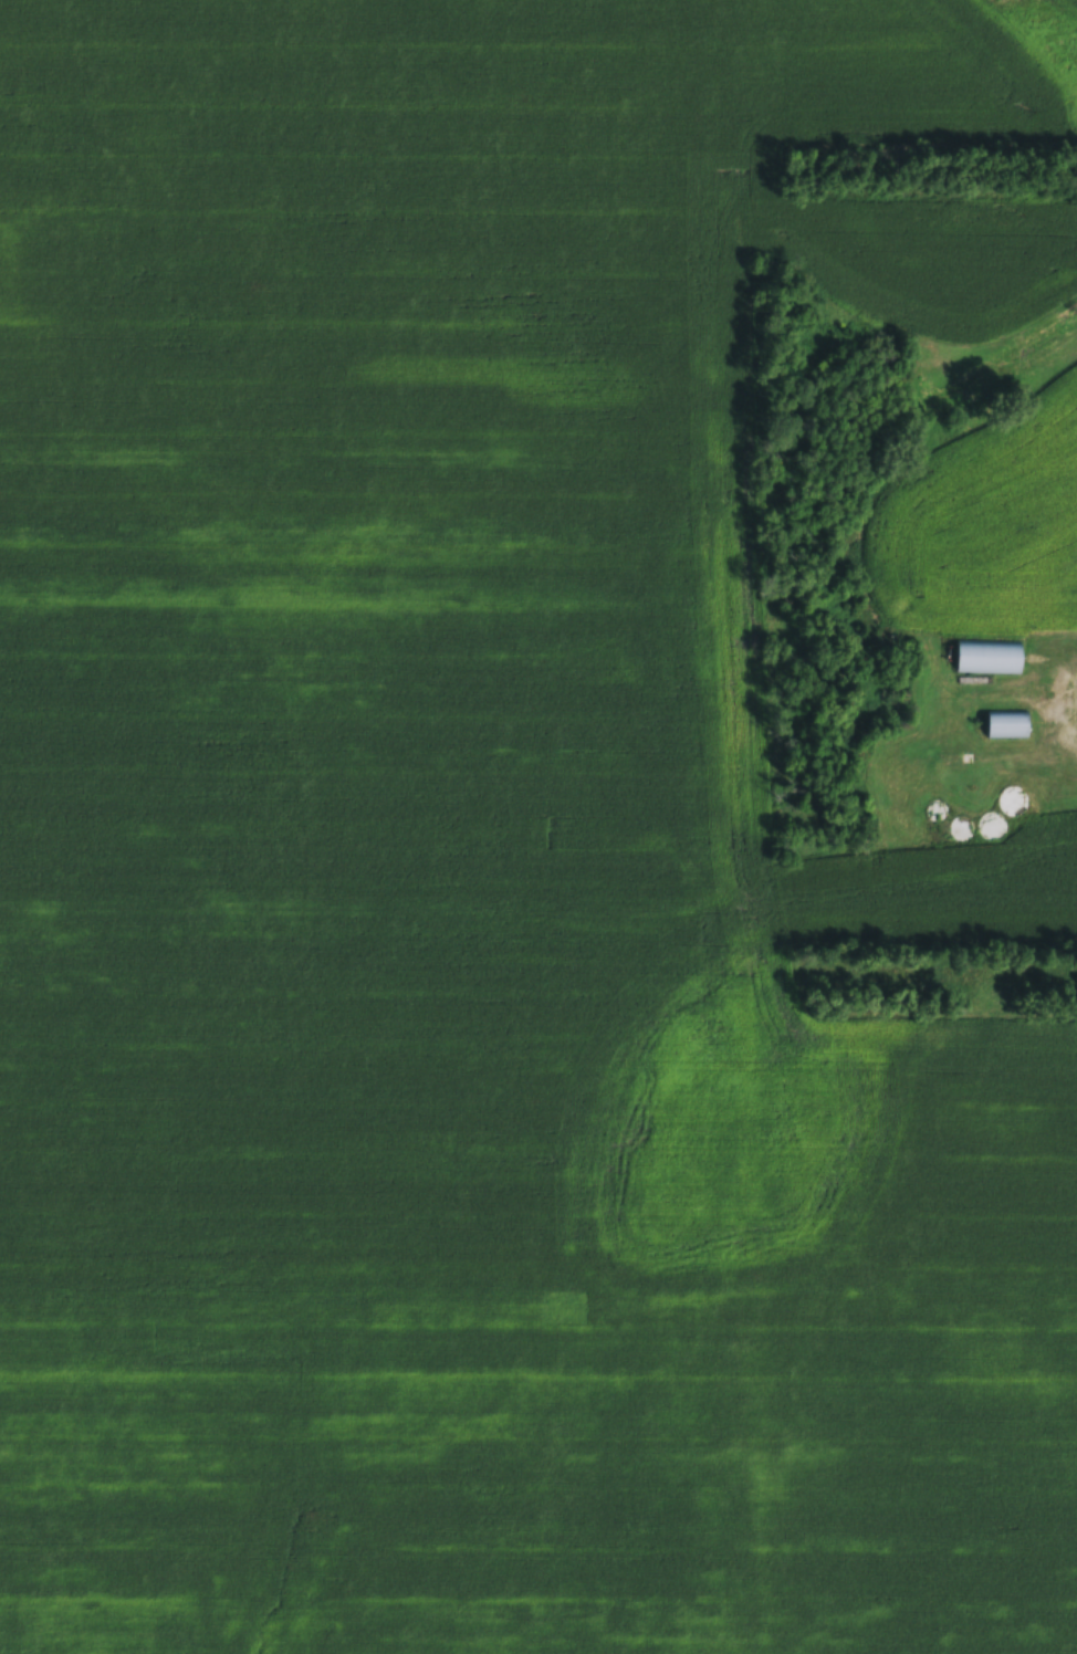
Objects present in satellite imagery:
building: (989, 658)
building: (1006, 726)
building: (1014, 802)
building: (937, 812)
building: (992, 828)
building: (959, 829)

